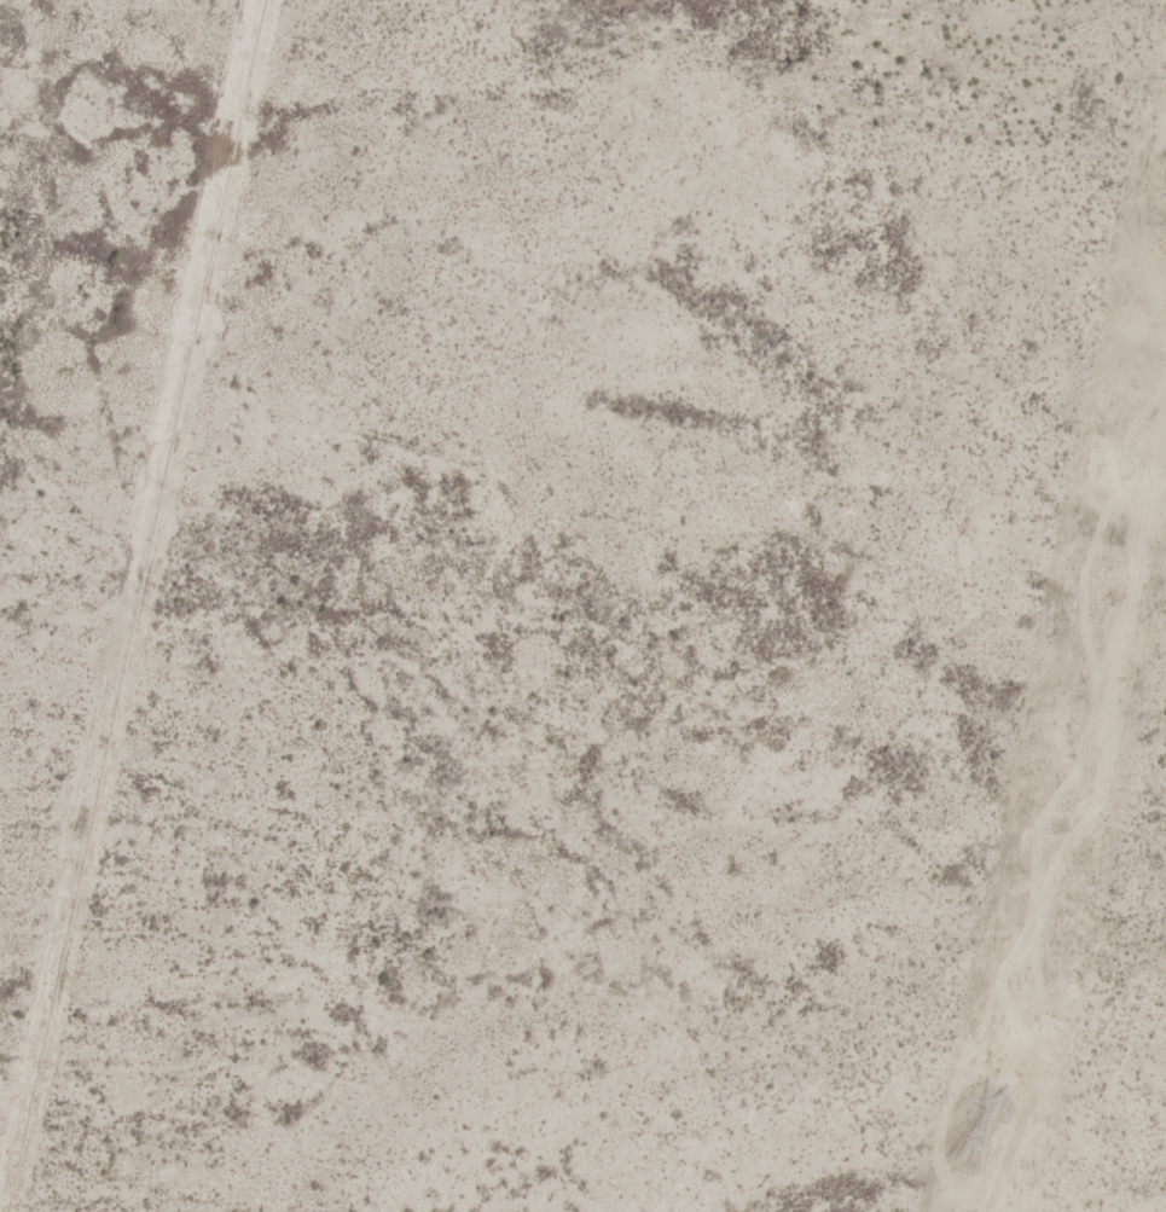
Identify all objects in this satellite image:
power tower: (1017, 1078)

